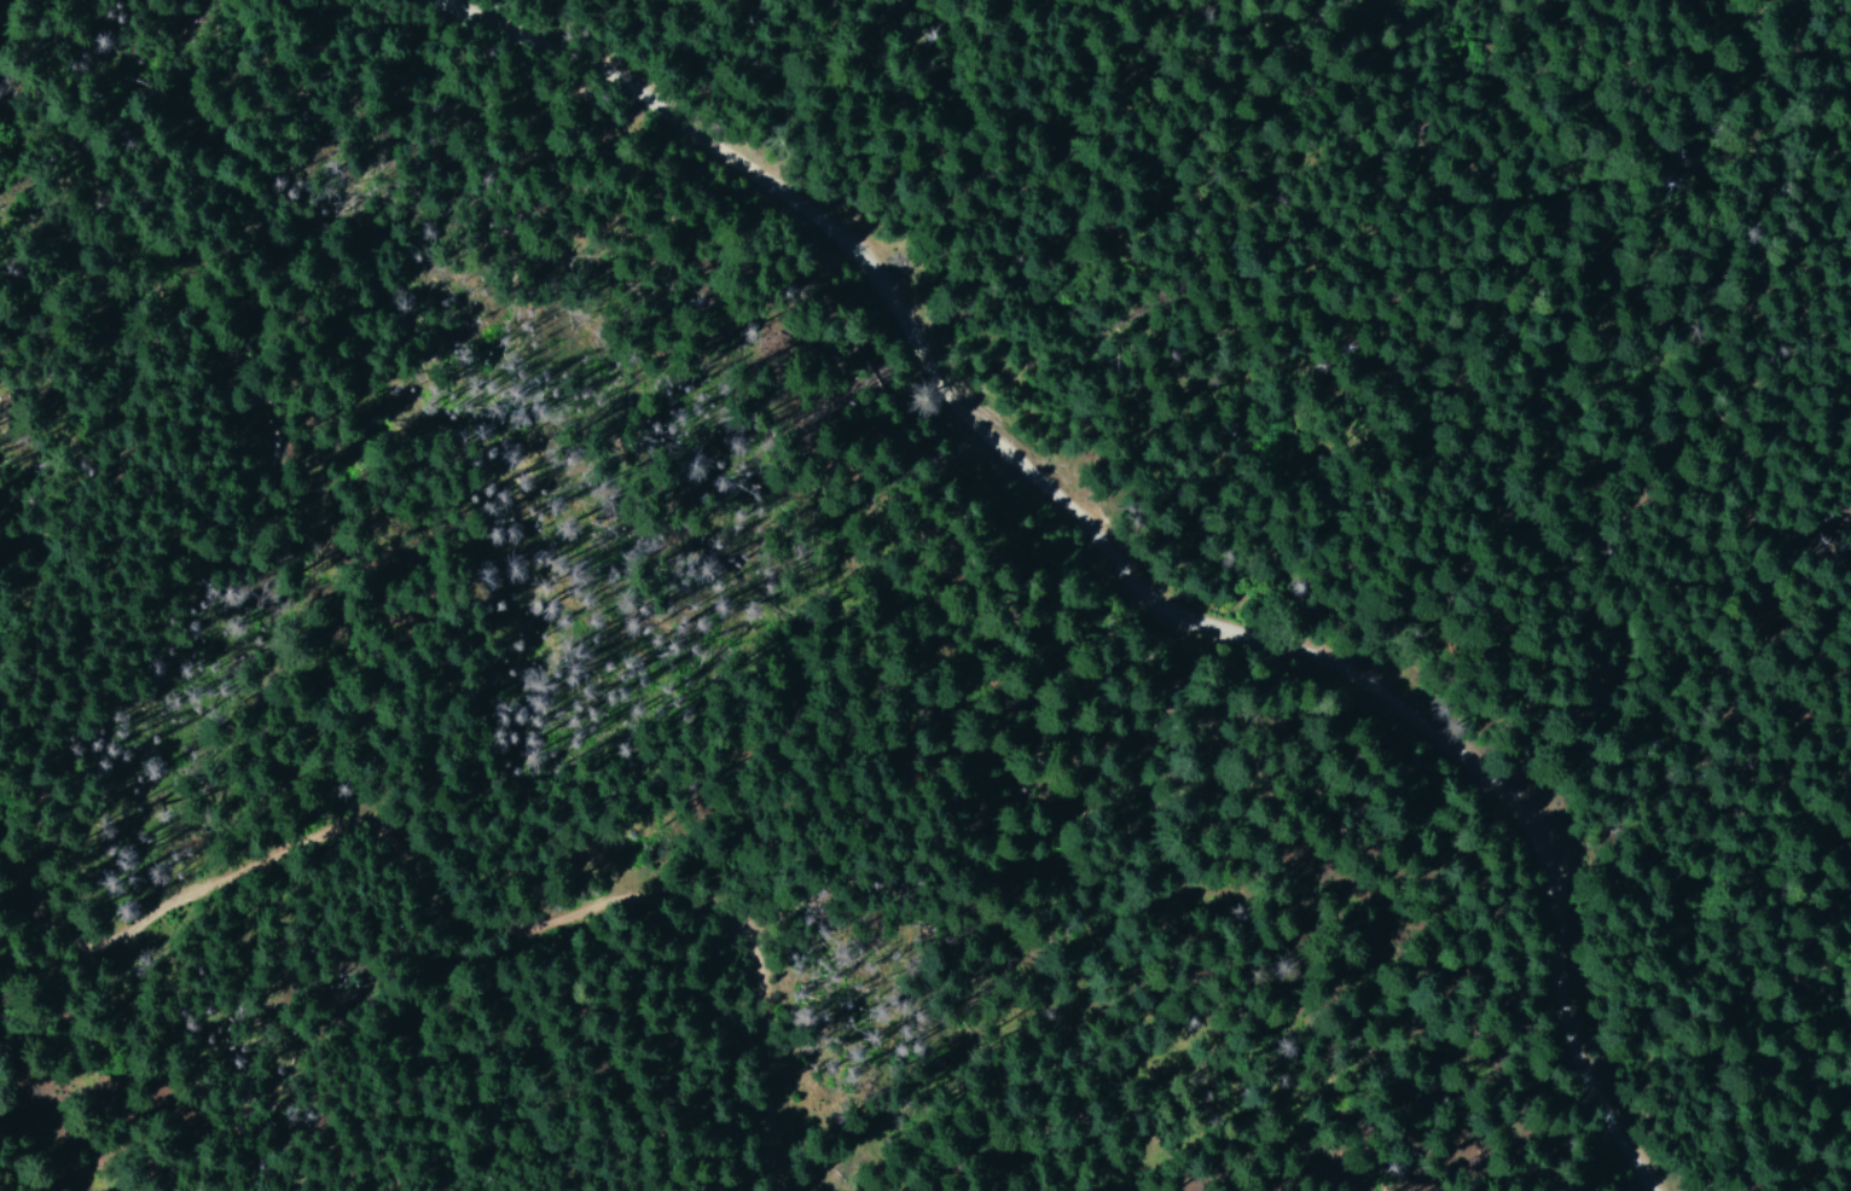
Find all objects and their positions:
road: (1145, 574)

